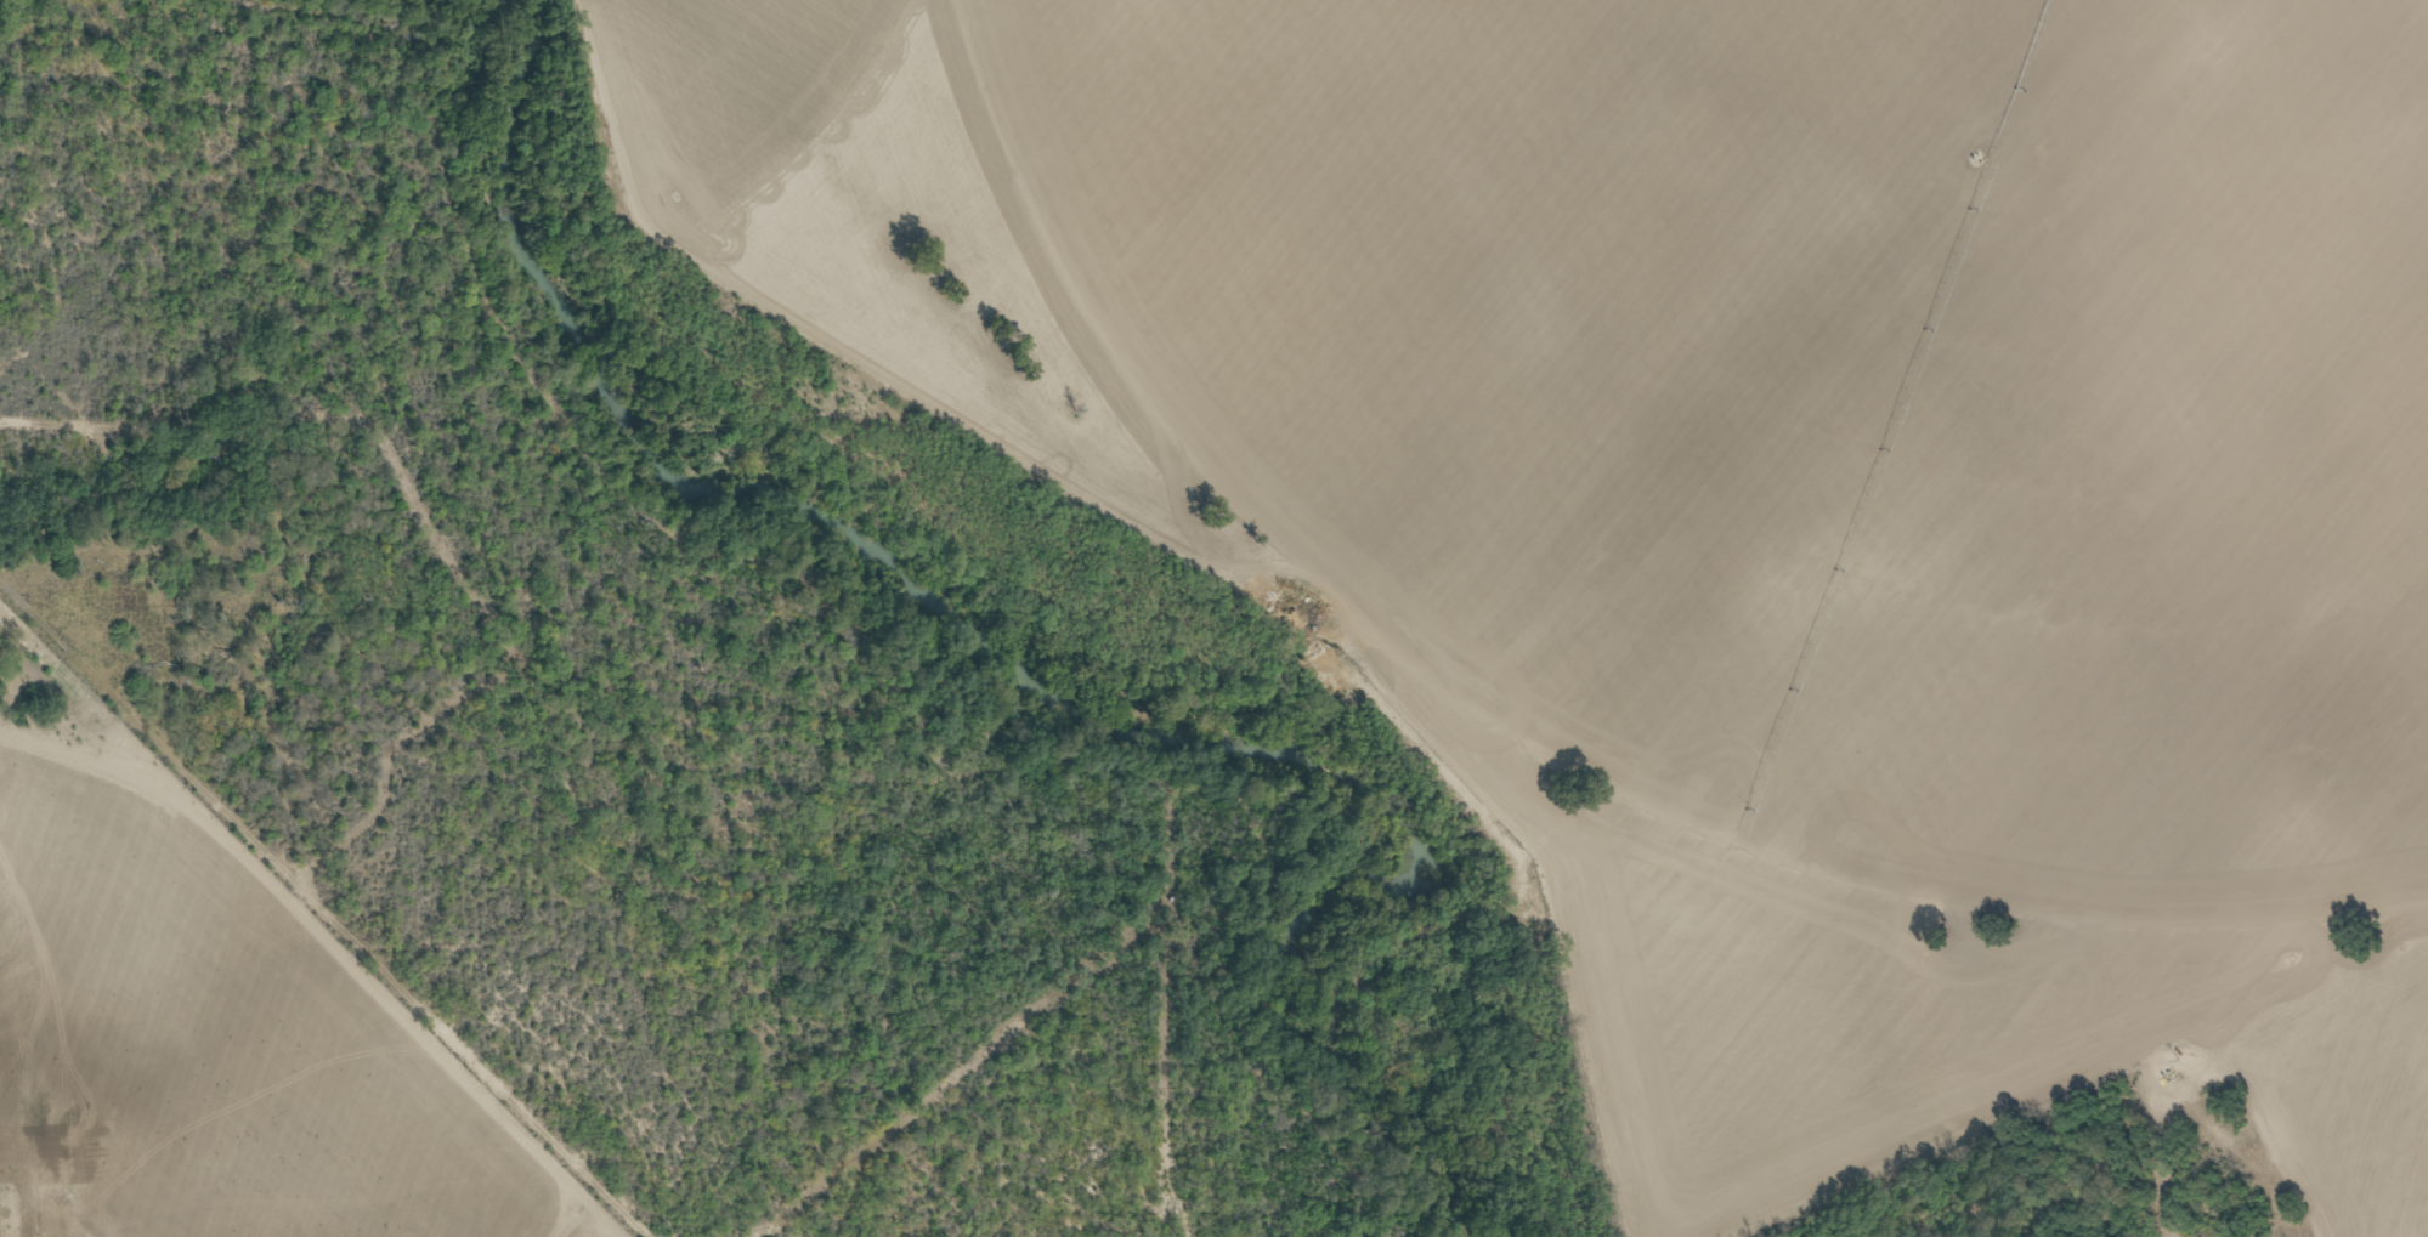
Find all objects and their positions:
river: (1042, 671)
road: (334, 804)

